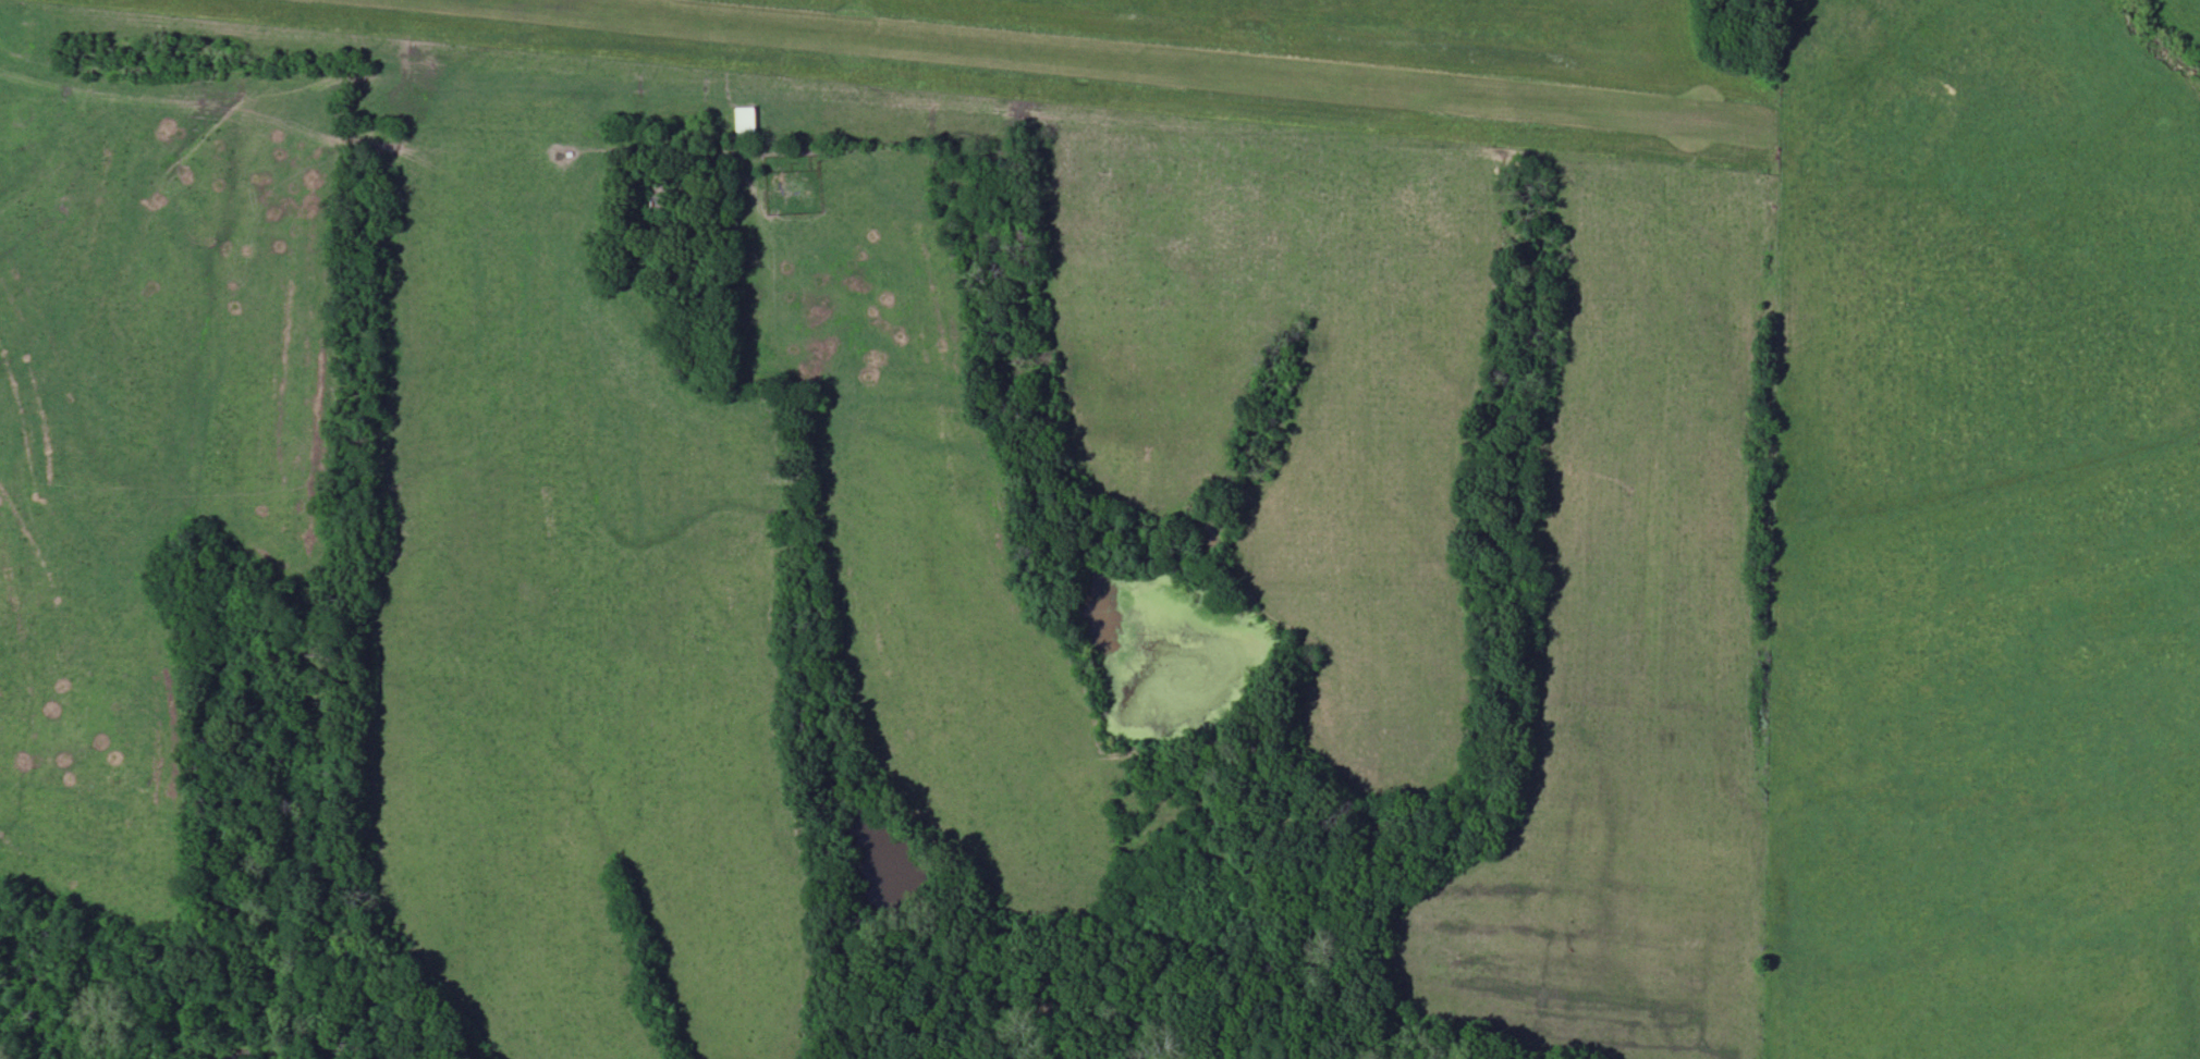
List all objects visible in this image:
building: (746, 124)

